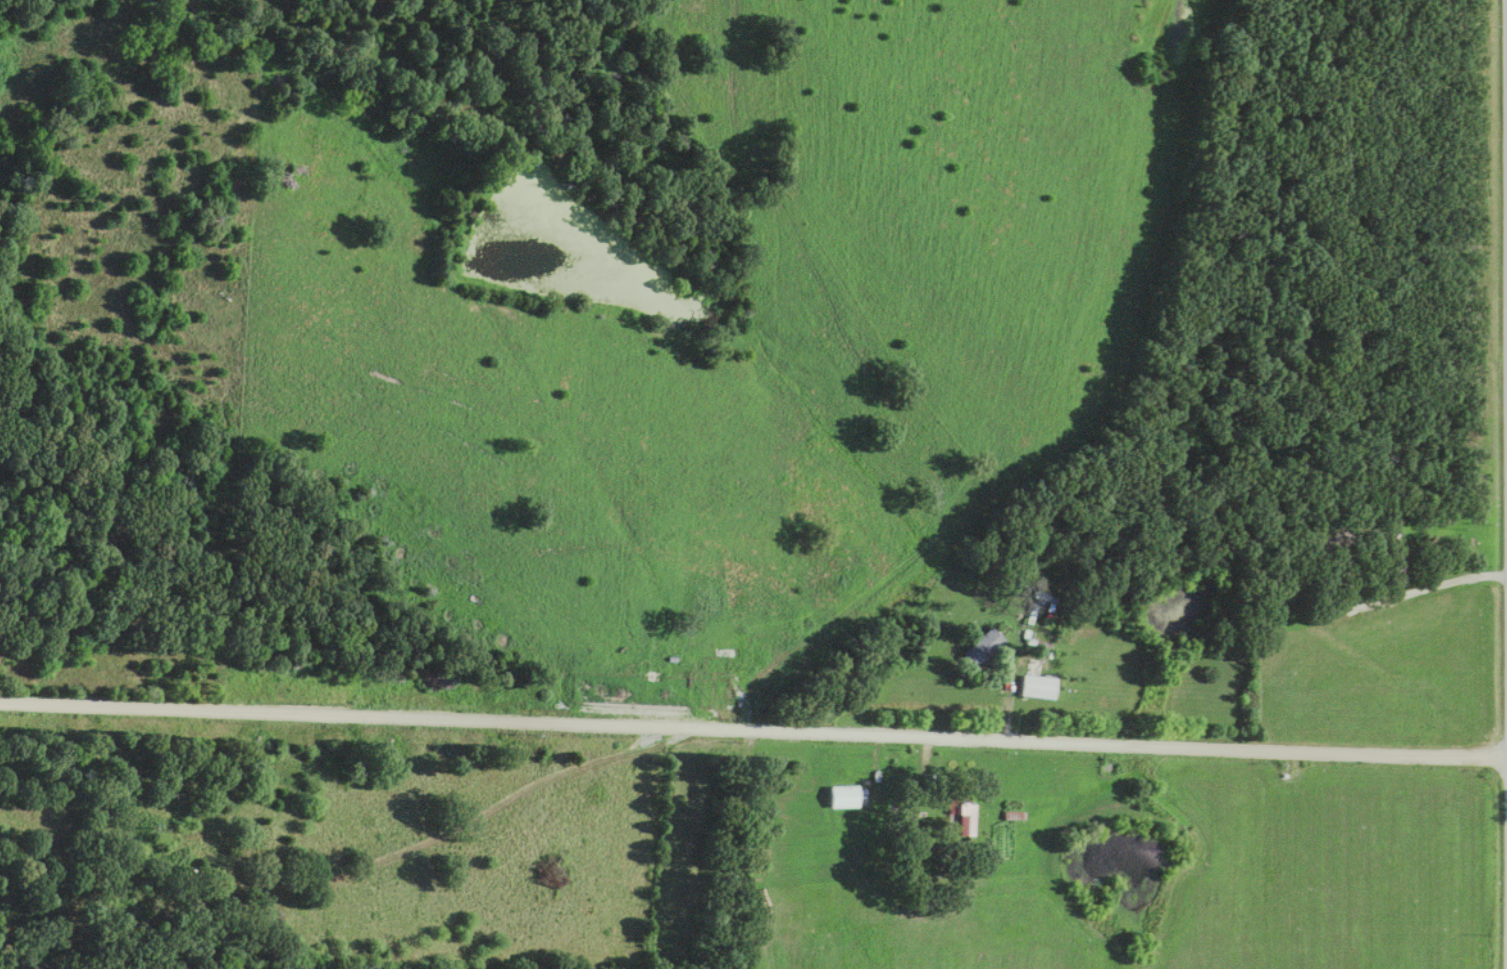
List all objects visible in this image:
building: (1394, 562)
road: (1408, 592)
building: (981, 649)
road: (753, 733)
building: (841, 799)
building: (959, 811)
road: (375, 861)

